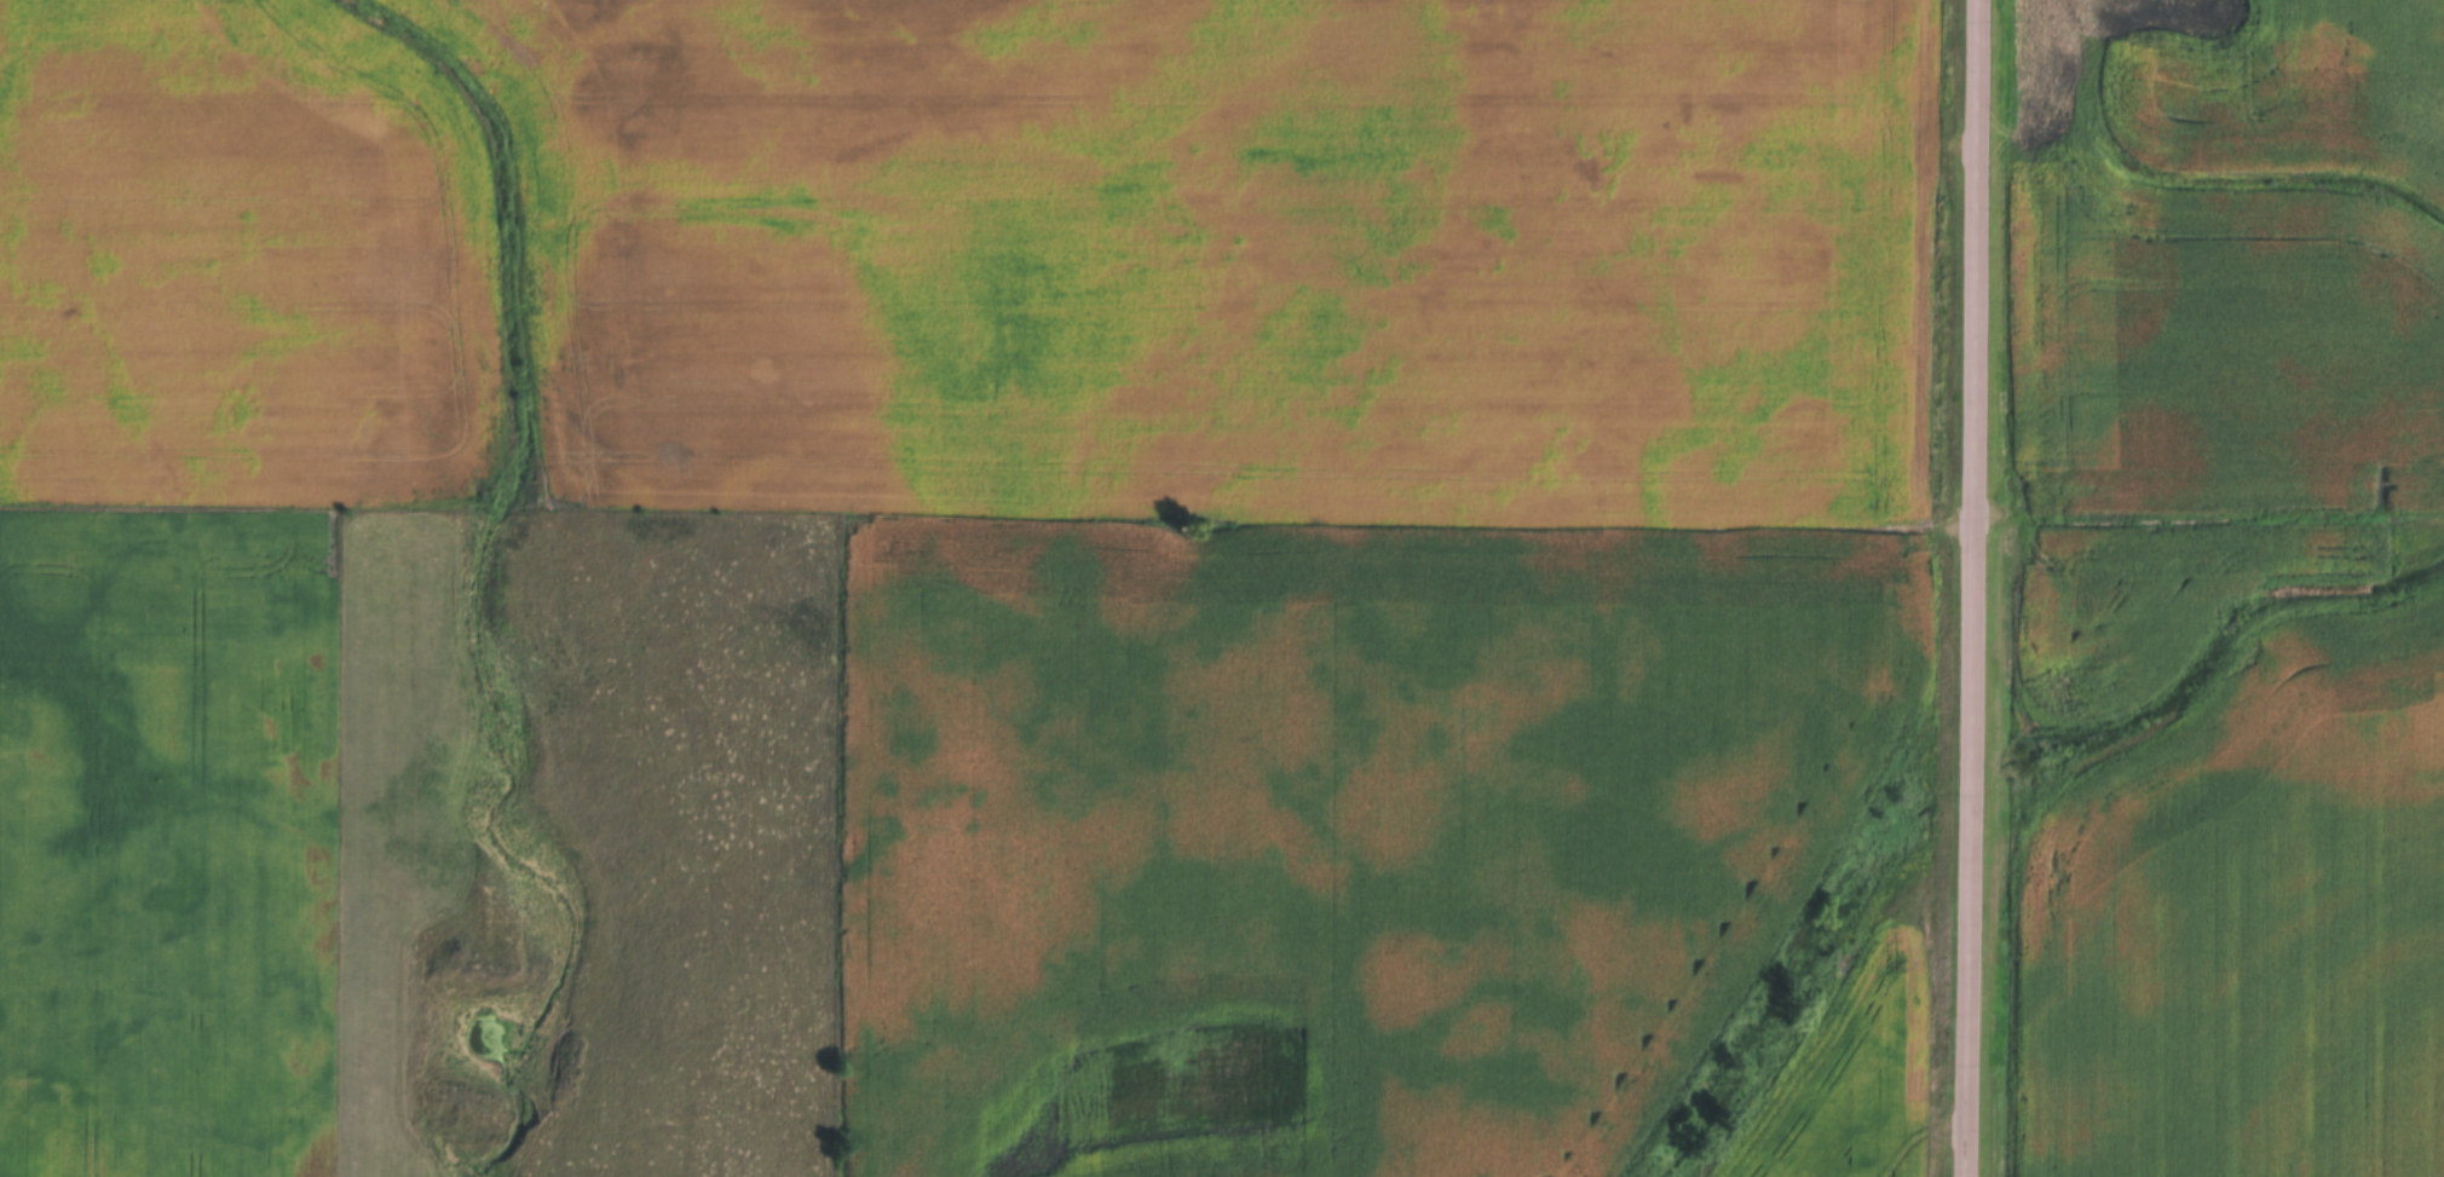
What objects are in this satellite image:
road: (1977, 588)

